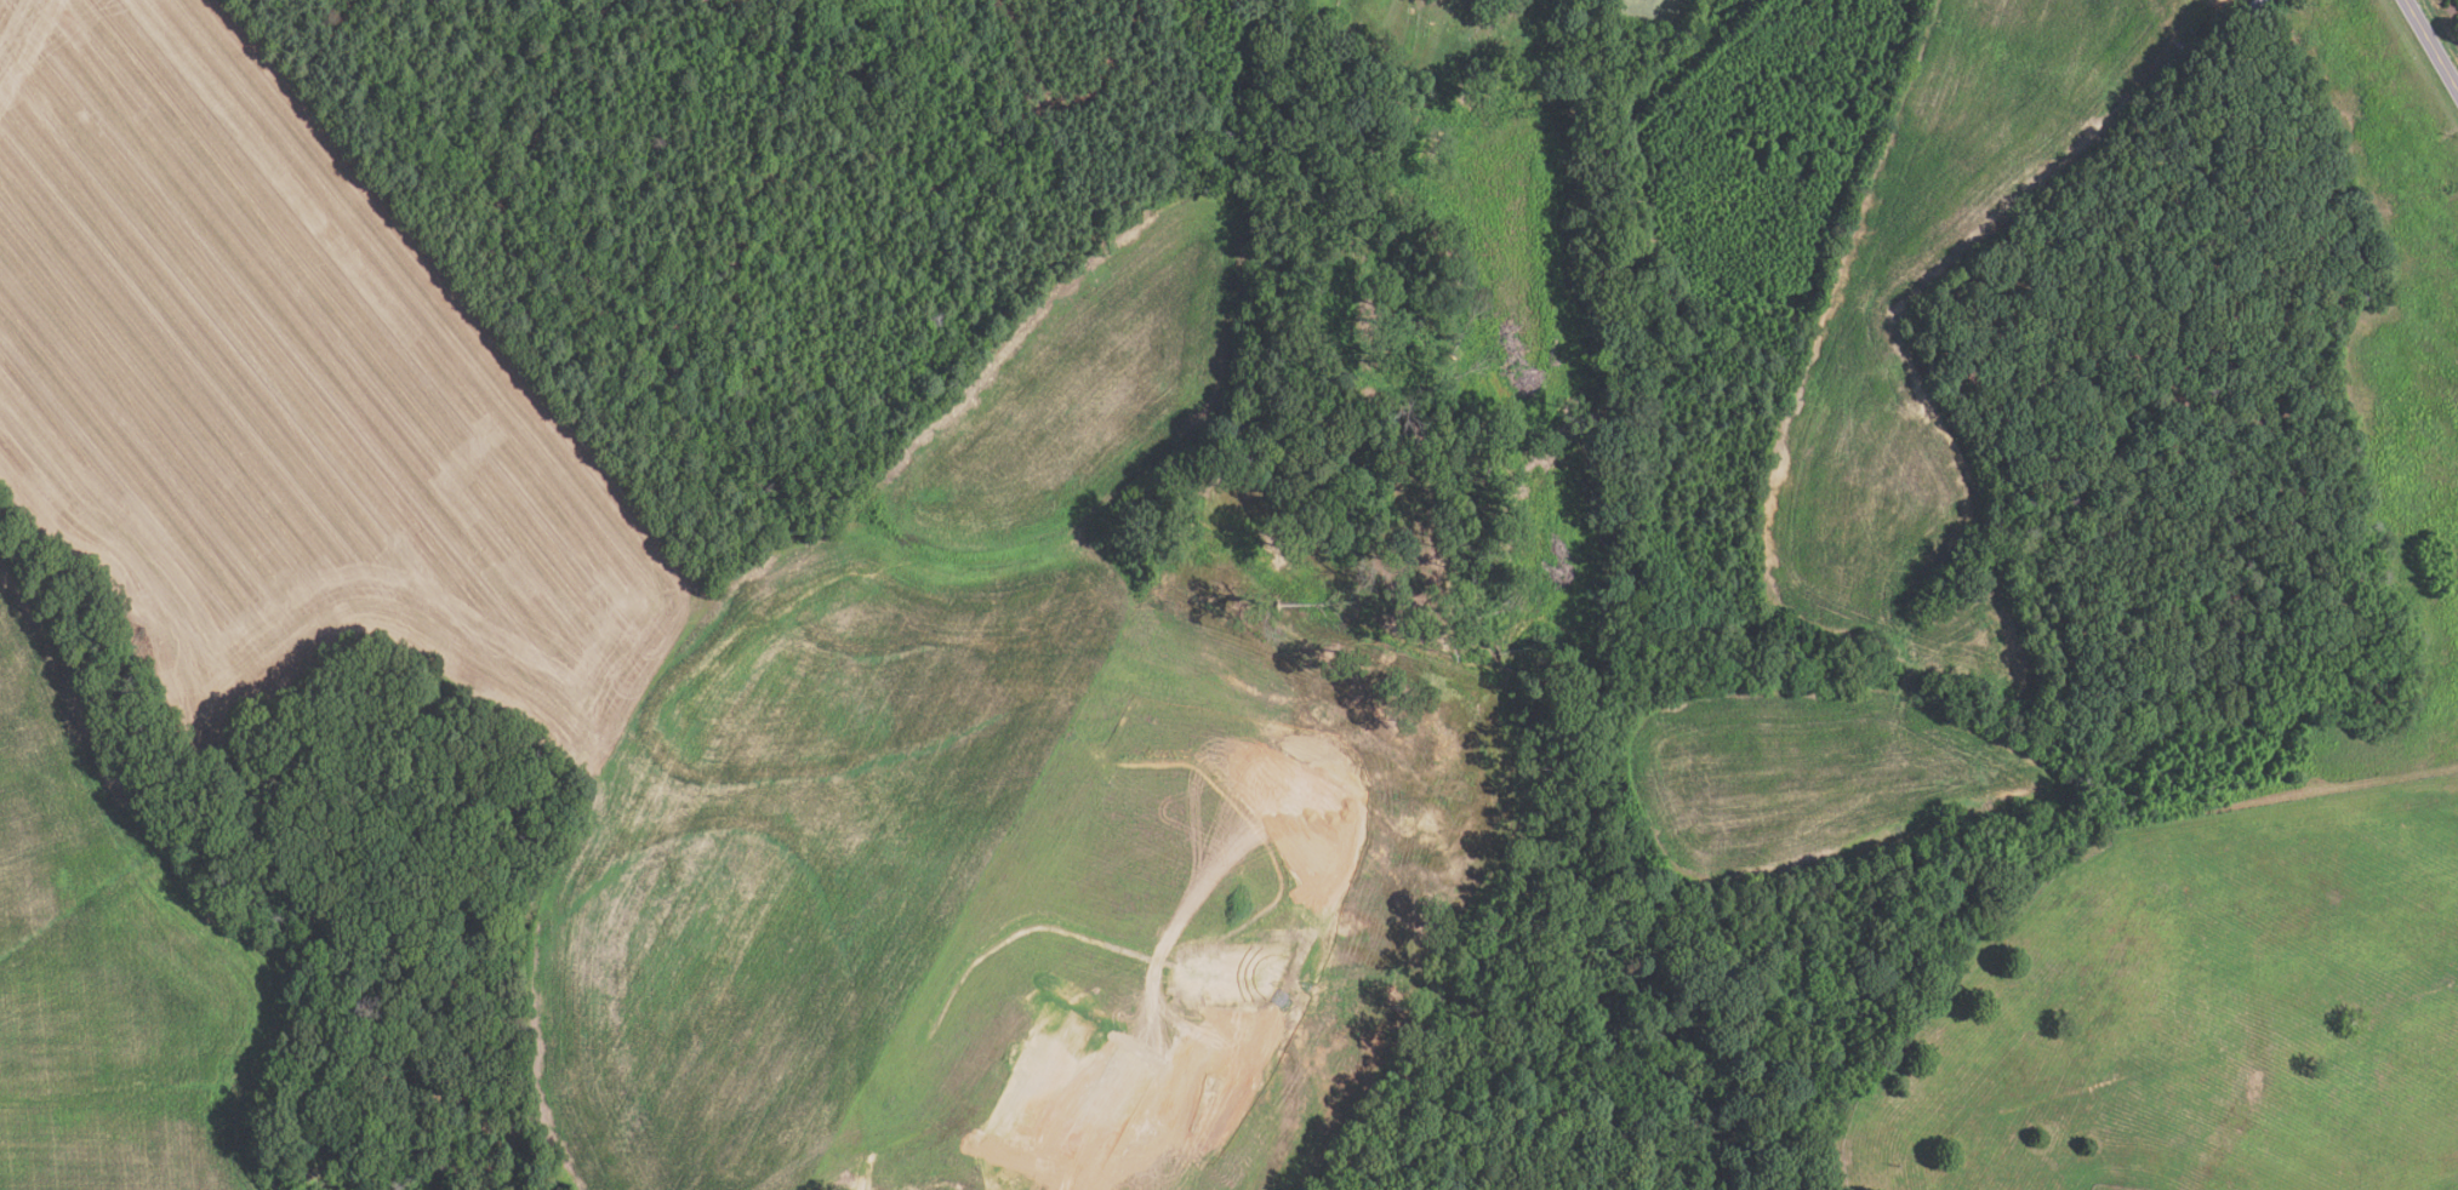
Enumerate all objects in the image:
building: (2253, 6)
road: (2431, 45)

